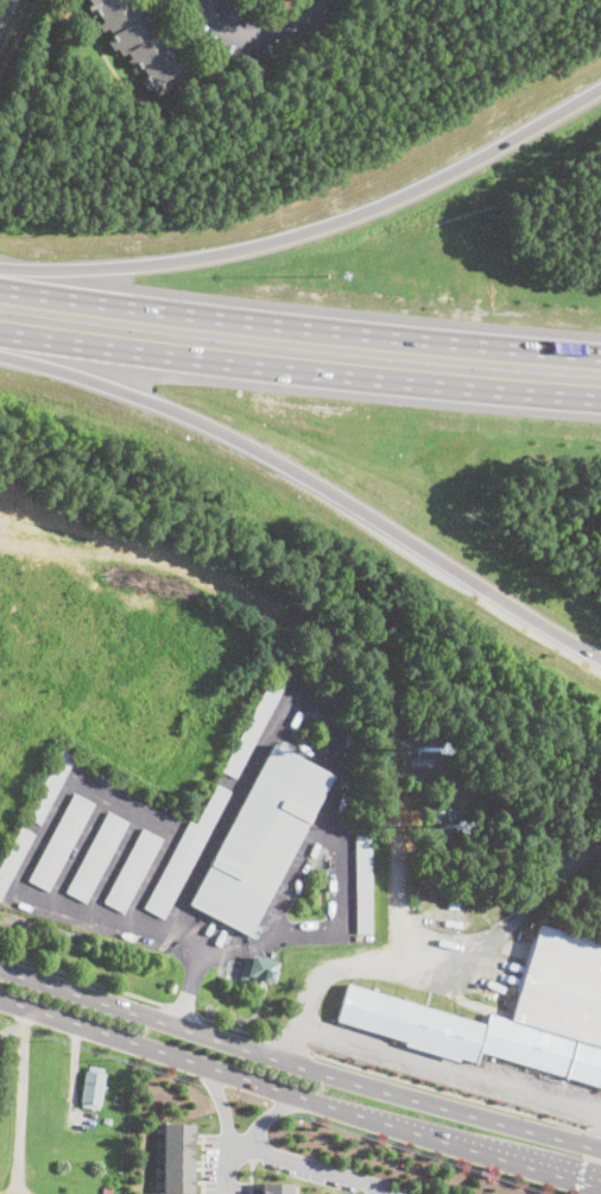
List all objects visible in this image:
road: (5, 8)
road: (221, 17)
road: (287, 24)
building: (140, 42)
road: (315, 227)
road: (299, 323)
road: (299, 364)
road: (311, 479)
building: (254, 725)
building: (422, 762)
building: (51, 785)
building: (261, 837)
building: (62, 840)
building: (97, 854)
building: (185, 854)
building: (14, 856)
building: (133, 868)
building: (363, 882)
road: (340, 887)
road: (152, 926)
road: (451, 949)
building: (260, 967)
road: (82, 976)
building: (558, 998)
road: (181, 1008)
road: (233, 1025)
road: (289, 1043)
road: (428, 1060)
road: (298, 1067)
building: (93, 1087)
road: (447, 1089)
road: (299, 1096)
road: (23, 1100)
building: (107, 1120)
road: (593, 1129)
road: (235, 1139)
road: (600, 1144)
building: (178, 1156)
road: (202, 1163)
road: (312, 1165)
road: (224, 1167)
road: (251, 1170)
building: (277, 1188)
road: (404, 1189)
building: (107, 1190)
road: (13, 1192)

